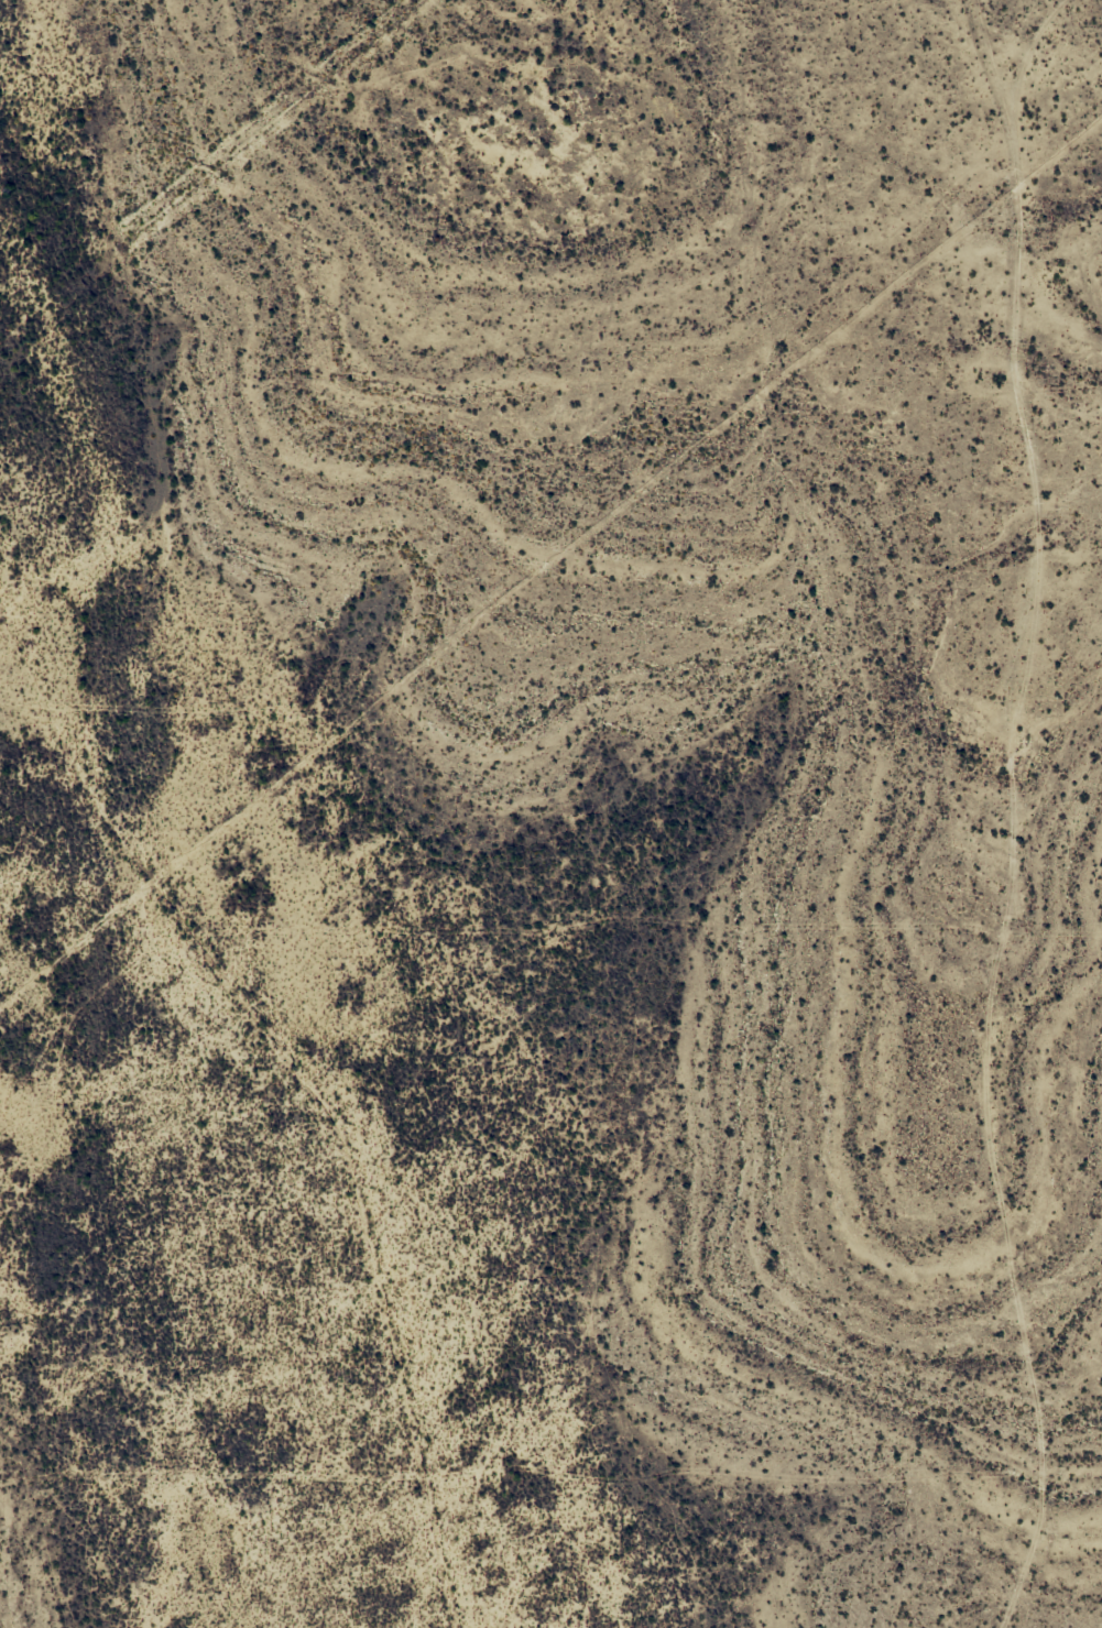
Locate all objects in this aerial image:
road: (1051, 32)
road: (1010, 810)

